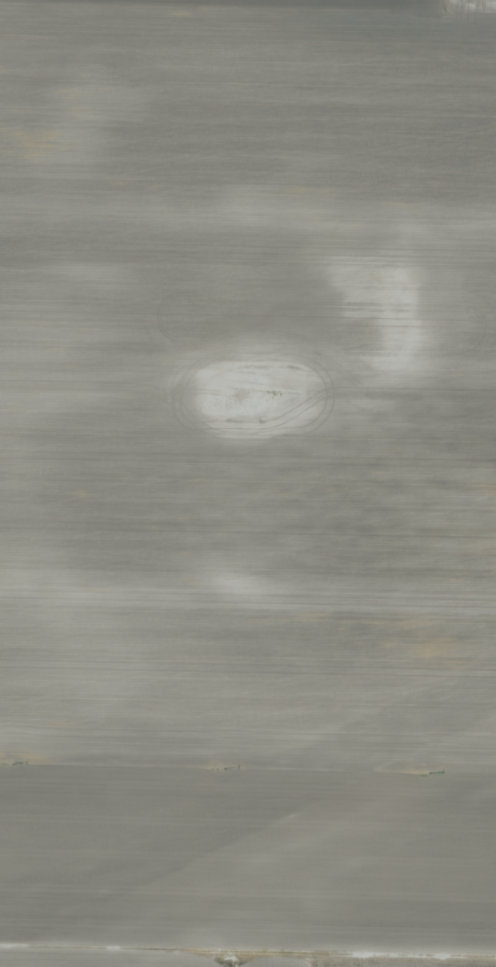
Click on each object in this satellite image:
road: (248, 953)

